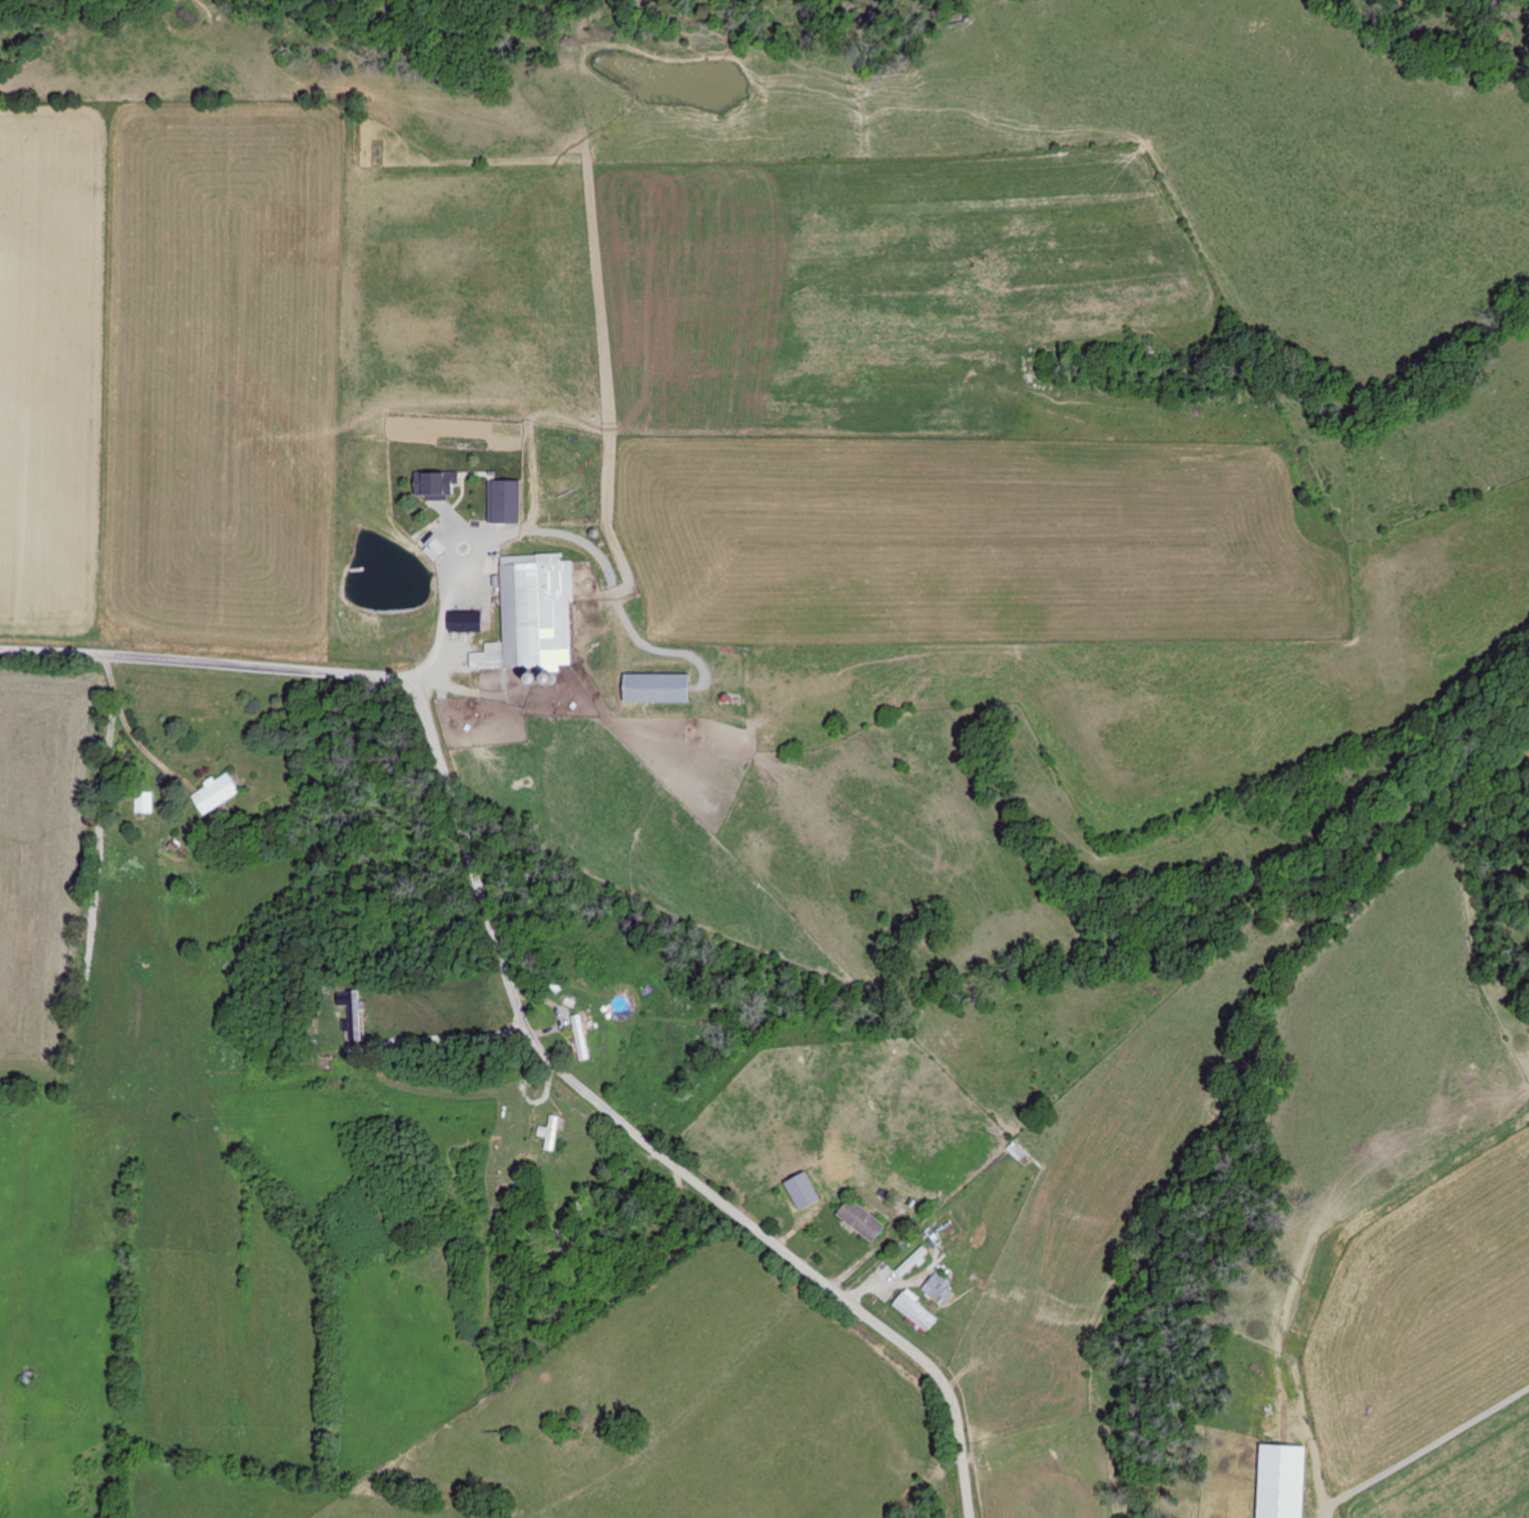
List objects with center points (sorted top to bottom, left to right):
building: (439, 484)
building: (534, 616)
building: (468, 619)
building: (659, 688)
building: (767, 739)
building: (219, 793)
building: (145, 802)
road: (509, 989)
building: (582, 1037)
road: (442, 1038)
building: (223, 1059)
building: (552, 1134)
building: (806, 1193)
building: (864, 1221)
building: (914, 1263)
building: (943, 1290)
building: (919, 1315)

